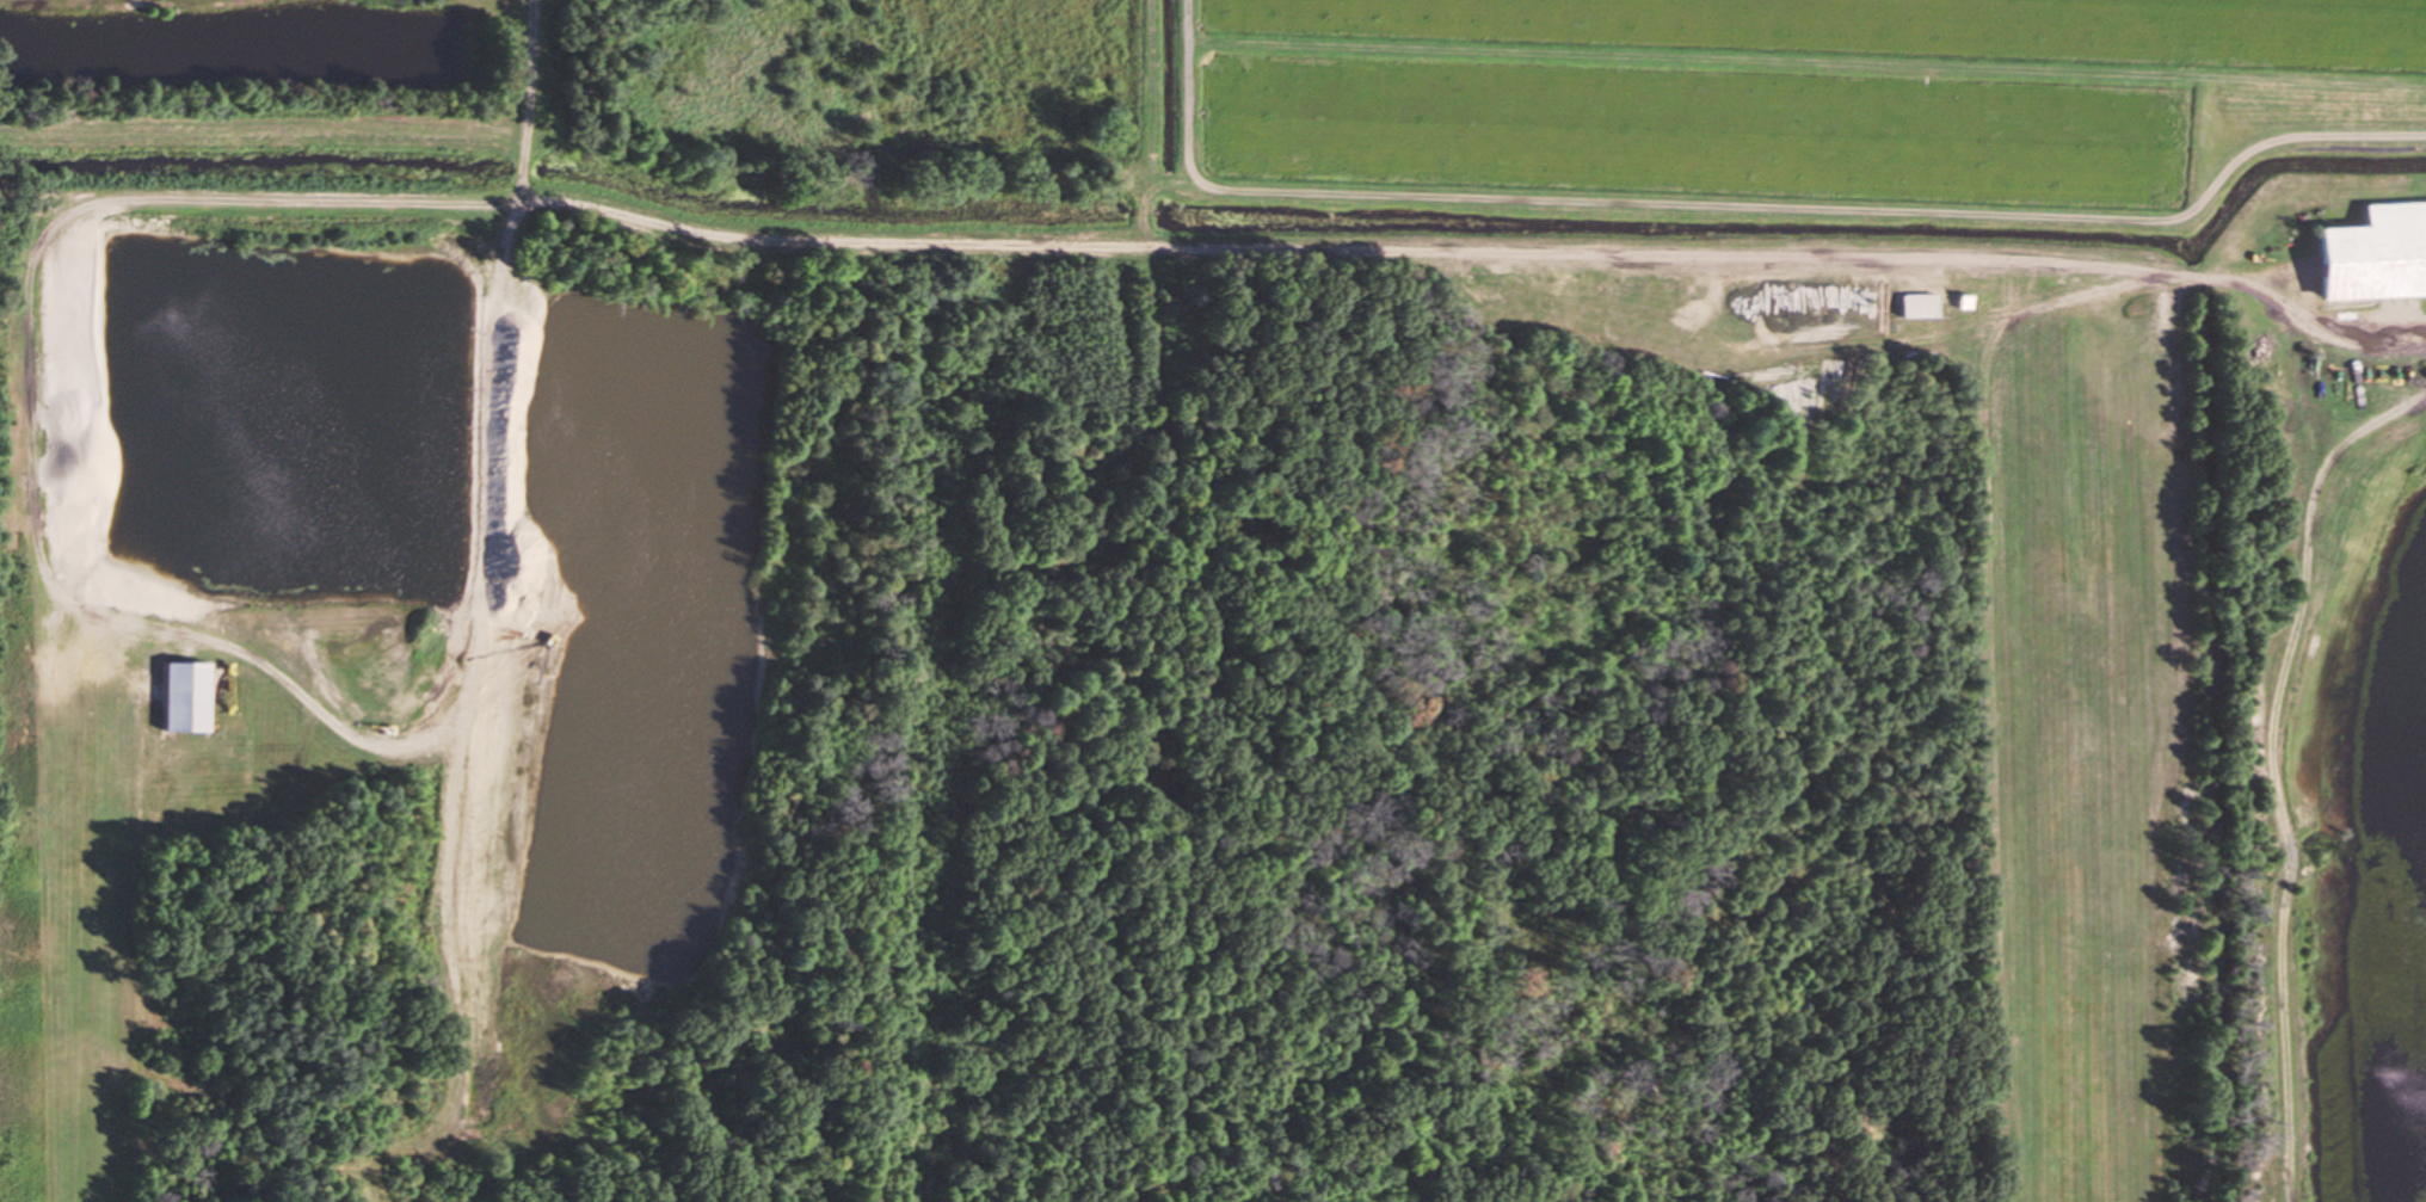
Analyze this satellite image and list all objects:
crop: (1772, 116)
building: (2372, 252)
building: (1916, 303)
building: (180, 694)
airport runway: (2092, 756)

